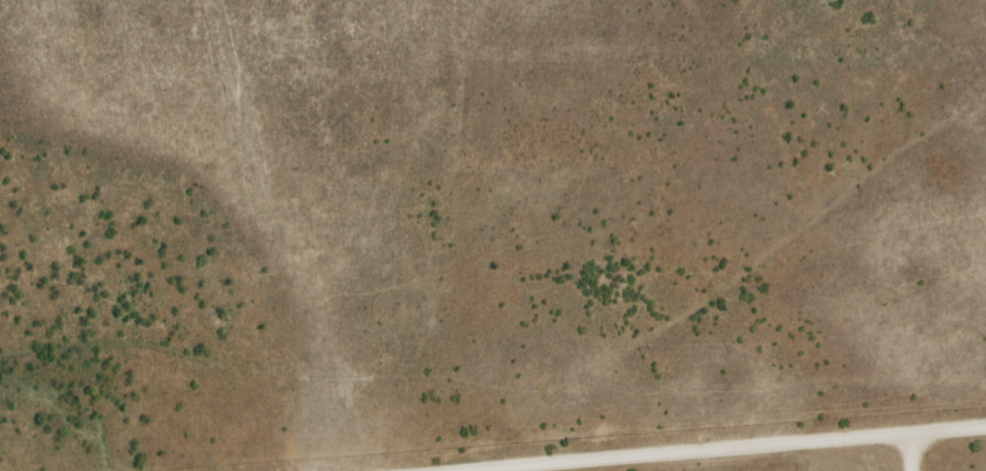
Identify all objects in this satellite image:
road: (728, 448)

